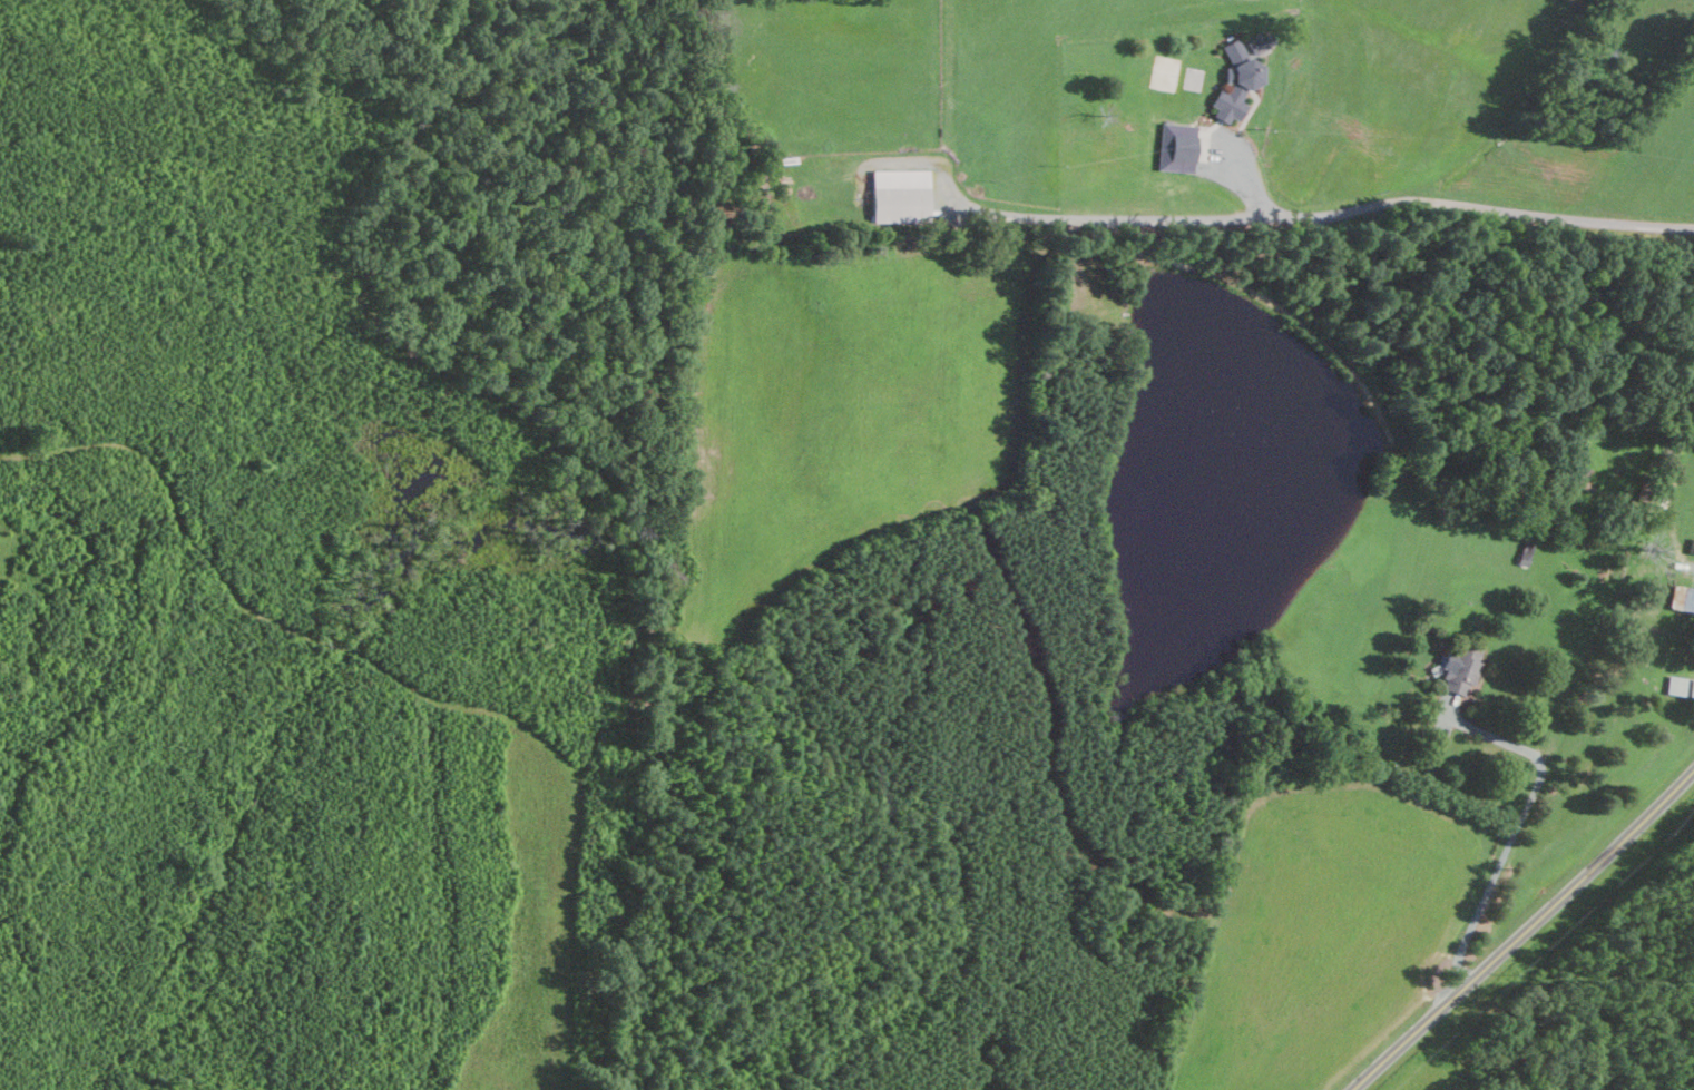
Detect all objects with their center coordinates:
building: (1240, 81)
building: (1179, 147)
building: (899, 198)
road: (1224, 217)
road: (1693, 569)
building: (1684, 599)
building: (1463, 672)
building: (1681, 687)
road: (1514, 831)
road: (1525, 932)

